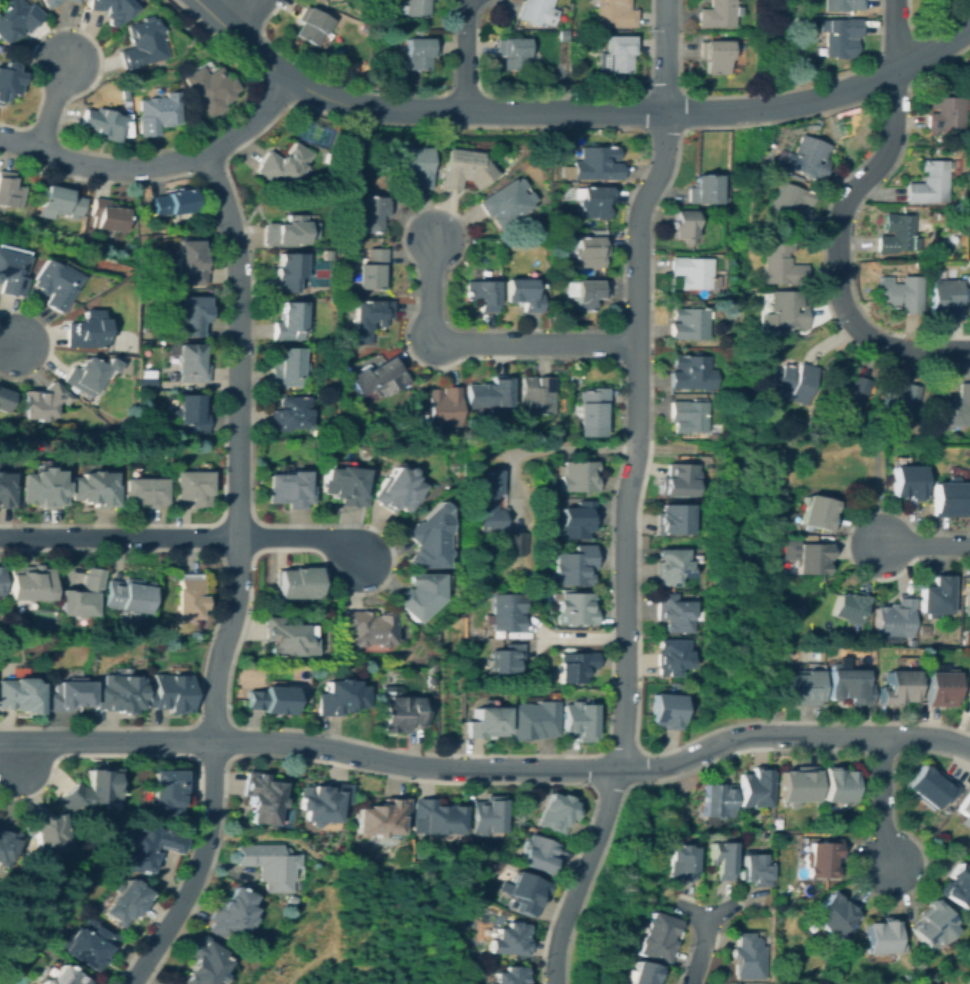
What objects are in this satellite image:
building: (74, 0)
building: (50, 3)
building: (843, 5)
building: (415, 8)
building: (113, 9)
road: (230, 11)
building: (537, 12)
building: (614, 14)
building: (718, 14)
building: (16, 18)
building: (312, 26)
building: (563, 35)
building: (840, 36)
building: (141, 44)
building: (419, 53)
building: (513, 53)
building: (616, 54)
road: (467, 55)
building: (715, 56)
building: (9, 80)
building: (209, 89)
road: (53, 104)
road: (573, 111)
building: (156, 112)
building: (947, 114)
building: (101, 123)
building: (313, 132)
park: (317, 135)
building: (808, 158)
building: (284, 163)
building: (594, 164)
road: (155, 165)
building: (415, 166)
building: (464, 169)
building: (931, 183)
building: (704, 190)
building: (10, 191)
building: (373, 191)
building: (62, 200)
building: (593, 200)
building: (173, 202)
building: (506, 202)
building: (789, 203)
building: (373, 212)
building: (108, 215)
building: (941, 216)
road: (841, 217)
building: (683, 226)
building: (923, 226)
building: (289, 230)
building: (897, 234)
building: (590, 251)
building: (162, 255)
building: (326, 255)
building: (190, 260)
building: (782, 265)
building: (372, 270)
building: (565, 270)
building: (920, 270)
building: (289, 271)
building: (692, 272)
building: (12, 273)
park: (320, 274)
building: (55, 283)
road: (431, 289)
building: (902, 293)
building: (482, 294)
building: (523, 294)
building: (589, 294)
building: (948, 297)
building: (787, 310)
building: (193, 314)
building: (369, 318)
building: (289, 321)
building: (690, 323)
building: (777, 329)
building: (87, 331)
park: (123, 342)
road: (536, 344)
road: (10, 346)
building: (191, 363)
building: (286, 367)
building: (692, 372)
building: (89, 374)
building: (379, 378)
building: (793, 381)
building: (147, 383)
building: (488, 393)
building: (847, 394)
building: (536, 395)
building: (4, 399)
building: (43, 401)
building: (900, 402)
building: (443, 408)
building: (954, 408)
building: (592, 409)
building: (191, 413)
building: (290, 413)
building: (689, 416)
building: (864, 420)
building: (770, 430)
building: (103, 431)
road: (236, 447)
road: (571, 447)
building: (578, 475)
building: (680, 478)
building: (907, 481)
building: (344, 485)
road: (508, 485)
building: (42, 487)
building: (191, 487)
building: (92, 488)
building: (288, 489)
building: (396, 489)
building: (5, 491)
building: (144, 491)
road: (625, 493)
building: (950, 498)
building: (487, 512)
building: (819, 512)
building: (673, 518)
building: (577, 519)
road: (182, 538)
building: (428, 538)
building: (512, 543)
road: (926, 545)
building: (811, 557)
building: (671, 565)
building: (574, 566)
building: (0, 580)
building: (29, 582)
building: (296, 582)
building: (419, 594)
building: (968, 594)
building: (80, 595)
building: (126, 595)
building: (936, 595)
building: (186, 599)
building: (850, 606)
building: (575, 608)
building: (507, 611)
building: (675, 613)
building: (895, 620)
building: (787, 621)
building: (366, 627)
building: (287, 636)
road: (582, 636)
building: (911, 641)
building: (672, 656)
building: (507, 659)
building: (575, 665)
building: (429, 680)
building: (149, 682)
building: (848, 685)
building: (802, 687)
building: (897, 687)
building: (941, 688)
building: (170, 692)
building: (119, 694)
building: (19, 695)
building: (67, 695)
building: (341, 697)
building: (271, 699)
building: (400, 710)
building: (666, 710)
building: (968, 713)
building: (533, 719)
building: (578, 720)
building: (487, 722)
road: (17, 757)
road: (487, 770)
road: (389, 775)
building: (798, 785)
building: (838, 785)
building: (931, 786)
building: (755, 787)
building: (94, 788)
building: (165, 793)
building: (262, 798)
building: (717, 799)
building: (322, 801)
road: (882, 803)
building: (965, 811)
building: (556, 812)
building: (487, 815)
building: (436, 816)
building: (380, 817)
park: (284, 818)
building: (48, 831)
road: (216, 831)
building: (779, 838)
building: (7, 846)
building: (143, 847)
building: (538, 854)
road: (317, 856)
building: (822, 858)
building: (721, 859)
building: (679, 862)
building: (268, 864)
road: (196, 869)
building: (755, 869)
building: (502, 886)
building: (957, 886)
building: (527, 892)
building: (290, 899)
building: (123, 901)
building: (230, 913)
road: (694, 914)
building: (833, 914)
building: (932, 925)
building: (657, 936)
road: (705, 936)
building: (882, 936)
building: (510, 939)
building: (89, 943)
building: (747, 956)
park: (966, 956)
road: (336, 959)
building: (203, 963)
building: (828, 967)
building: (643, 973)
building: (509, 975)
park: (14, 977)
building: (64, 977)
building: (968, 981)
building: (166, 983)

